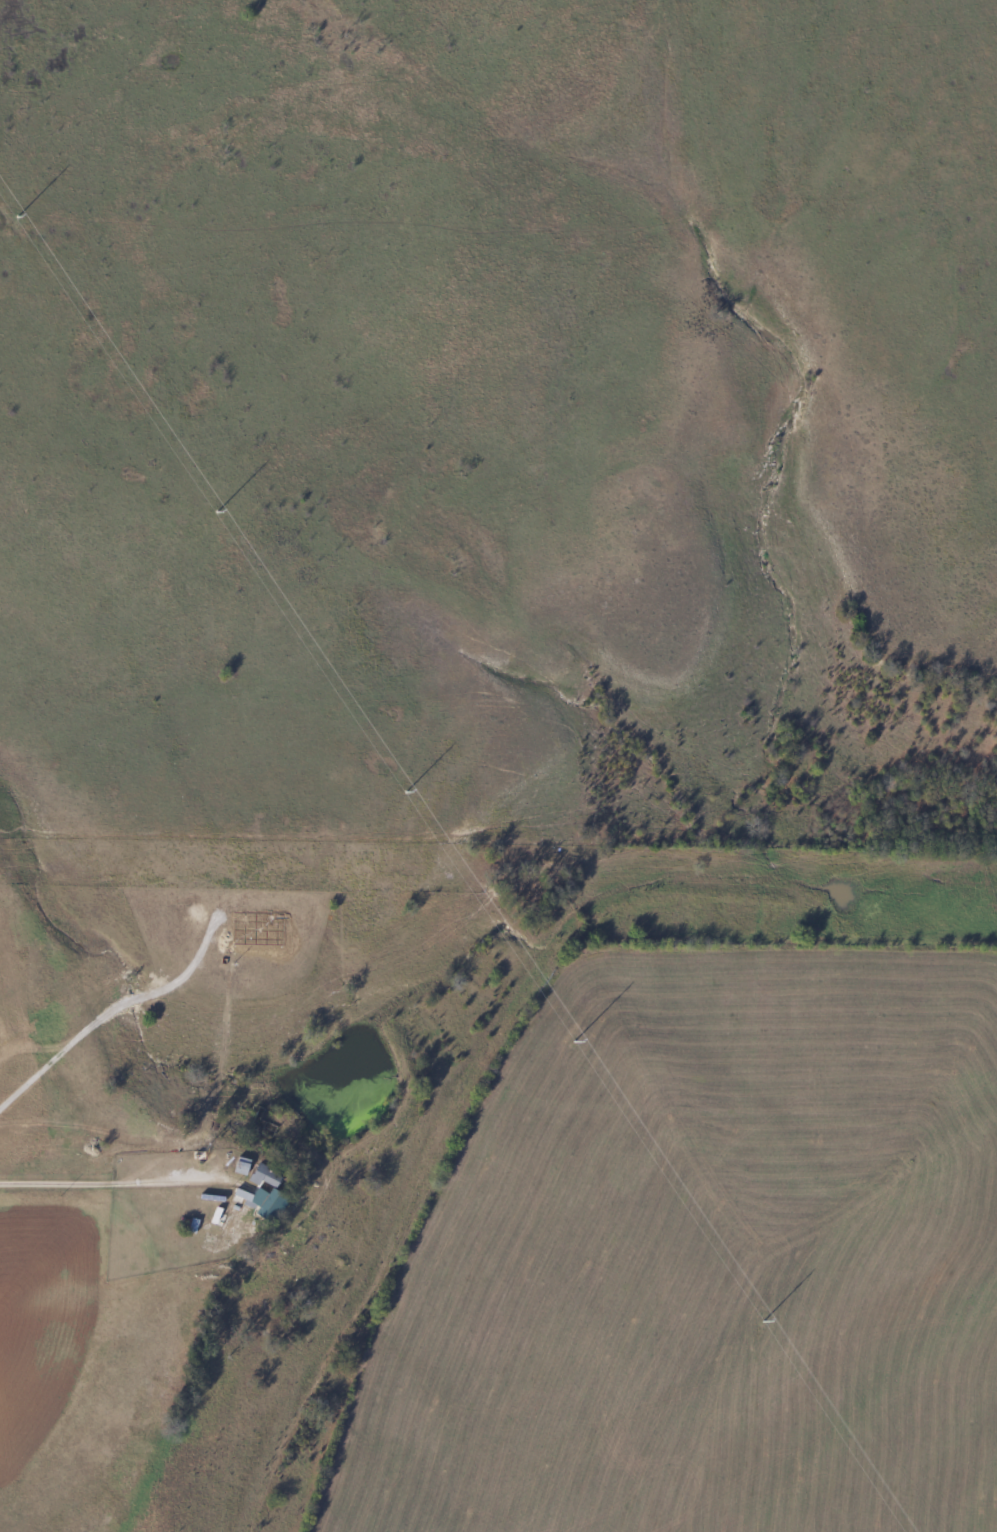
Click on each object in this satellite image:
building: (240, 1166)
building: (263, 1176)
road: (108, 1184)
road: (364, 1366)

